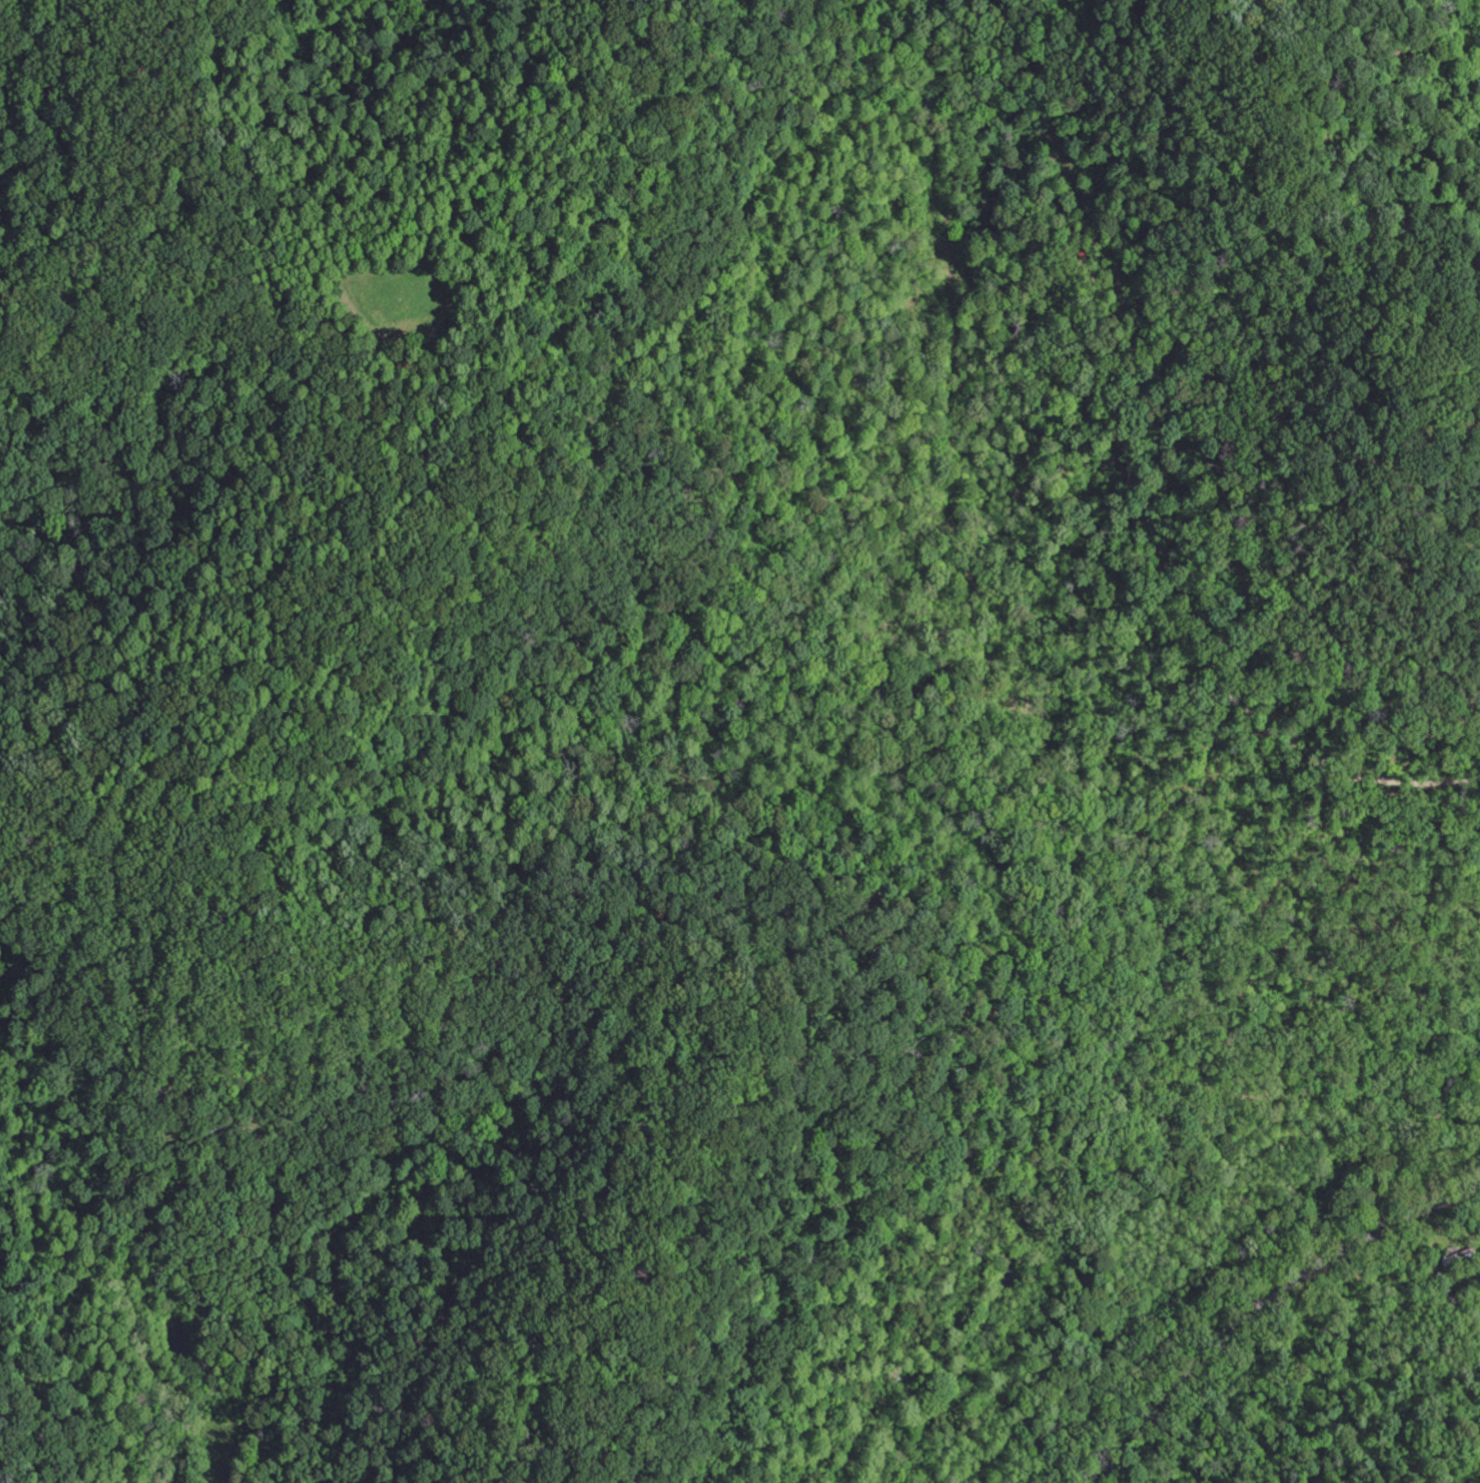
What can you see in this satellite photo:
road: (1266, 1299)

